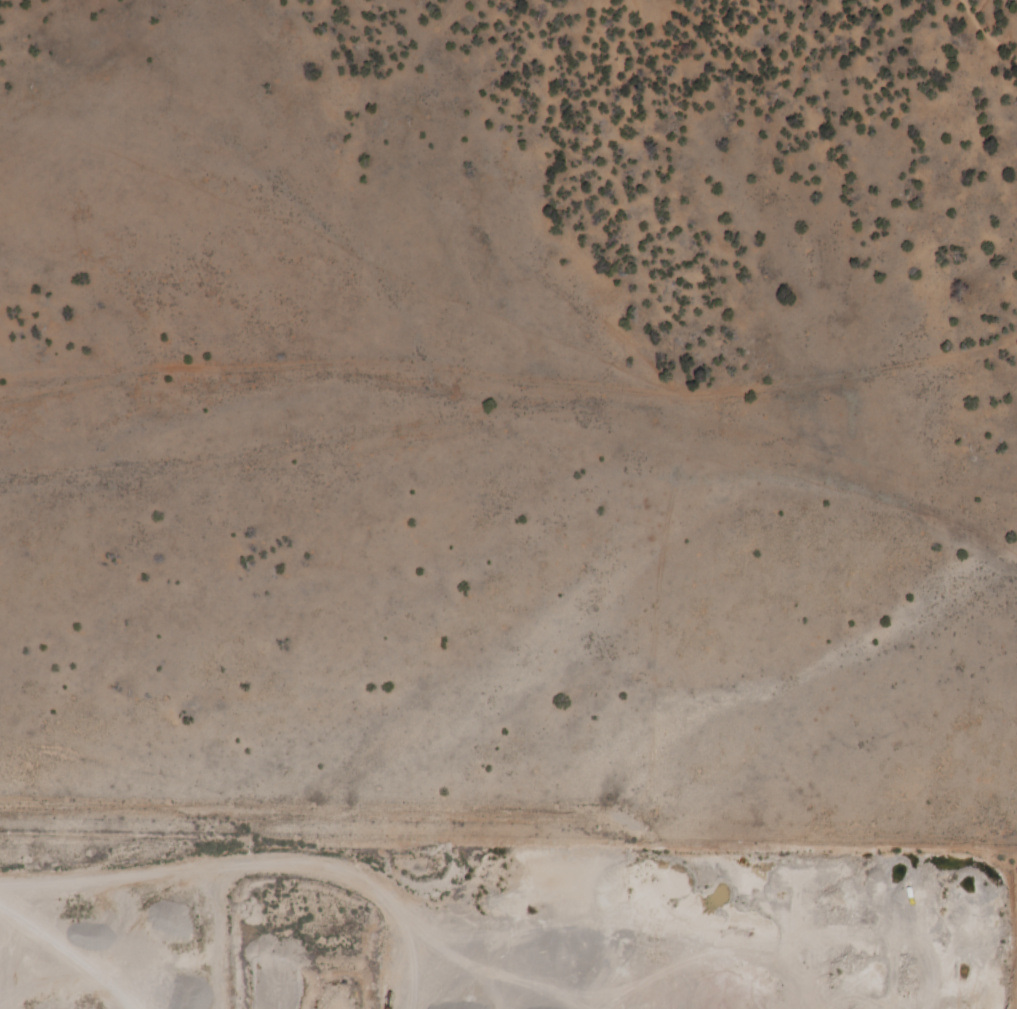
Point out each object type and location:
road: (507, 389)

